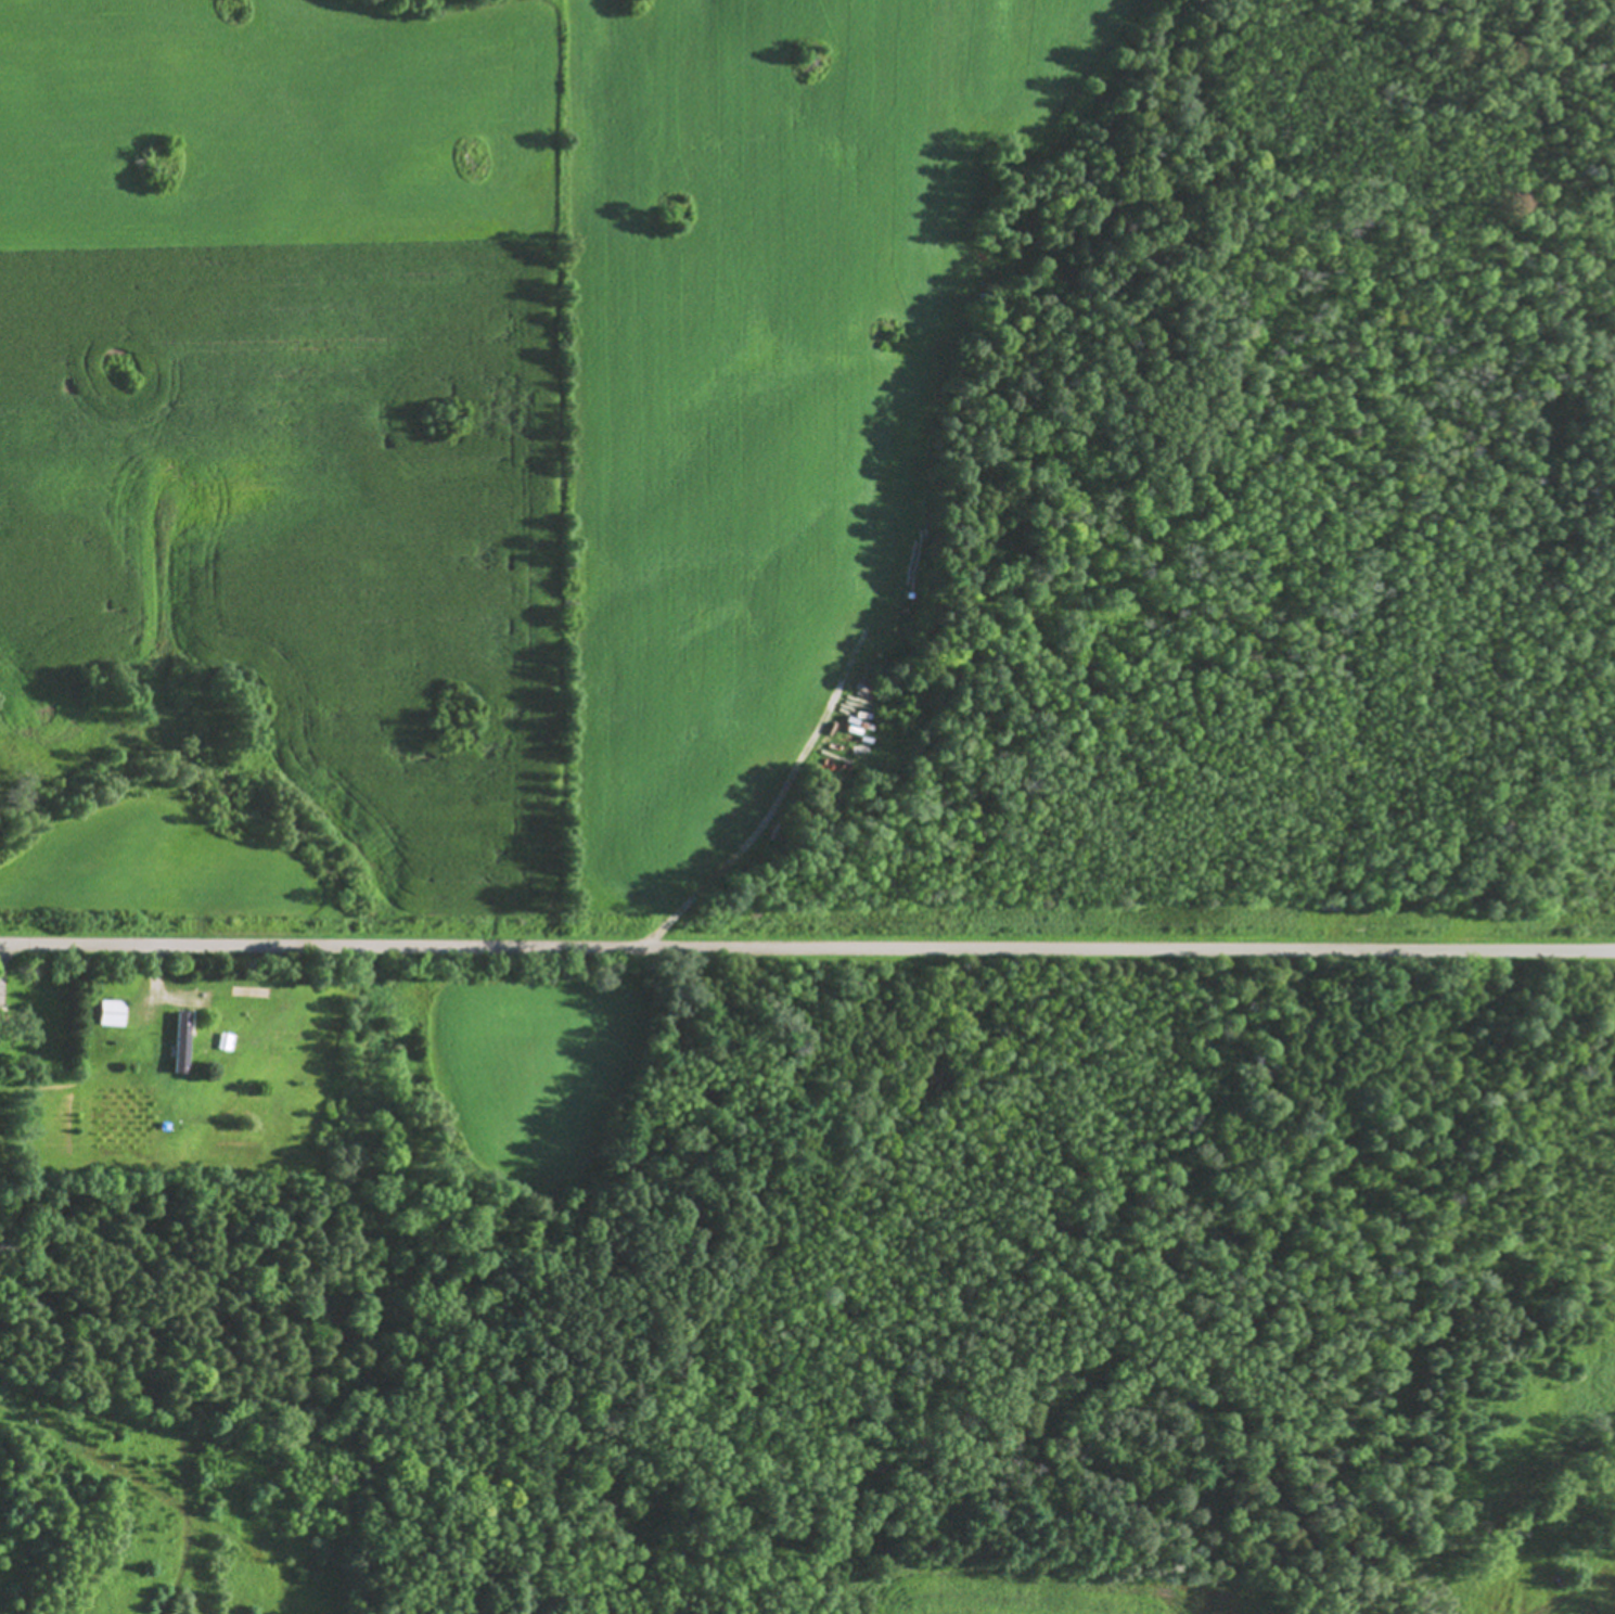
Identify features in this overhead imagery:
road: (749, 836)
road: (807, 948)
building: (113, 1013)
building: (183, 1043)

